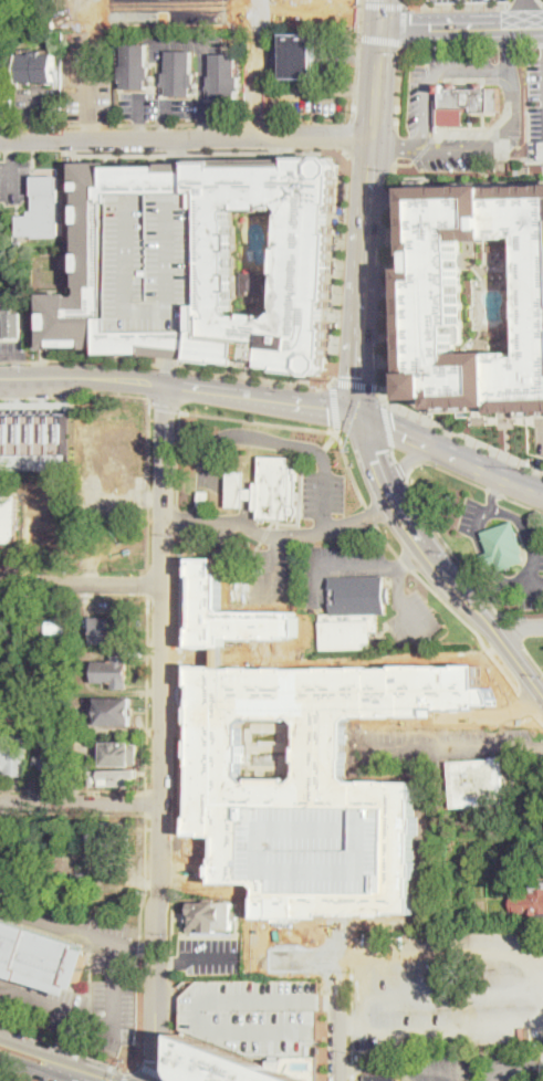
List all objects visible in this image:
parking lot: (460, 0)
road: (359, 1)
road: (334, 2)
road: (405, 2)
road: (382, 3)
road: (524, 4)
road: (542, 4)
road: (164, 6)
road: (457, 6)
building: (1, 9)
parking lot: (167, 10)
road: (383, 12)
road: (525, 12)
road: (320, 17)
road: (405, 24)
road: (461, 24)
traffic signals: (382, 25)
road: (178, 41)
road: (380, 41)
road: (450, 42)
road: (509, 42)
road: (530, 42)
road: (541, 42)
parking lot: (188, 45)
building: (302, 54)
road: (357, 63)
building: (135, 66)
building: (36, 67)
road: (258, 67)
building: (179, 74)
parking lot: (90, 76)
building: (224, 77)
road: (203, 81)
road: (400, 86)
road: (470, 88)
building: (429, 91)
parking lot: (3, 93)
road: (309, 93)
road: (359, 93)
parking lot: (307, 98)
parking lot: (535, 99)
parking lot: (38, 104)
road: (38, 105)
road: (139, 106)
parking lot: (167, 107)
road: (167, 111)
road: (276, 114)
road: (119, 123)
road: (87, 128)
road: (139, 128)
road: (38, 129)
road: (167, 129)
road: (203, 129)
road: (187, 137)
road: (349, 138)
road: (497, 140)
road: (396, 144)
road: (12, 148)
road: (181, 151)
road: (181, 180)
road: (12, 181)
parking lot: (15, 182)
building: (43, 211)
road: (368, 220)
building: (18, 243)
building: (160, 263)
parking lot: (160, 263)
building: (215, 265)
road: (344, 269)
road: (76, 271)
road: (390, 273)
building: (253, 285)
building: (437, 294)
building: (11, 315)
street lamp: (341, 318)
road: (169, 345)
parking lot: (12, 348)
road: (11, 356)
road: (92, 358)
road: (17, 366)
road: (168, 371)
road: (258, 374)
traffic signals: (358, 376)
road: (83, 377)
road: (356, 384)
road: (76, 393)
road: (382, 396)
road: (262, 399)
road: (335, 405)
road: (164, 407)
traffic signals: (328, 410)
road: (297, 426)
road: (388, 426)
traffic signals: (395, 429)
road: (336, 430)
building: (34, 432)
road: (366, 433)
road: (462, 433)
parking lot: (539, 434)
road: (413, 435)
road: (365, 437)
road: (541, 438)
road: (267, 439)
road: (149, 447)
traffic signals: (374, 453)
road: (395, 454)
road: (419, 456)
road: (177, 458)
road: (401, 470)
road: (383, 473)
road: (504, 476)
road: (237, 487)
building: (276, 489)
building: (238, 490)
road: (492, 491)
parking lot: (323, 492)
building: (203, 497)
road: (519, 502)
road: (422, 511)
road: (373, 514)
parking lot: (472, 516)
building: (8, 518)
road: (178, 519)
road: (226, 519)
road: (149, 528)
road: (321, 529)
road: (530, 533)
road: (387, 539)
building: (504, 546)
road: (483, 548)
road: (357, 562)
road: (405, 564)
parking lot: (341, 566)
parking lot: (531, 568)
parking lot: (278, 575)
road: (150, 581)
road: (82, 584)
road: (399, 585)
road: (464, 595)
building: (354, 611)
building: (234, 612)
parking lot: (415, 618)
road: (471, 626)
road: (520, 627)
building: (109, 630)
road: (514, 630)
building: (56, 636)
road: (533, 657)
building: (113, 672)
road: (148, 693)
road: (528, 703)
building: (114, 710)
road: (540, 717)
road: (161, 733)
road: (537, 747)
road: (449, 751)
building: (119, 752)
road: (176, 752)
building: (18, 755)
building: (91, 758)
building: (53, 759)
building: (311, 763)
building: (112, 778)
building: (476, 783)
road: (73, 789)
road: (81, 801)
road: (147, 801)
road: (146, 814)
building: (111, 835)
building: (540, 844)
building: (25, 847)
building: (319, 847)
parking lot: (319, 847)
building: (492, 861)
building: (525, 870)
building: (81, 881)
building: (11, 886)
building: (529, 901)
building: (211, 916)
road: (76, 930)
road: (439, 953)
building: (40, 954)
parking lot: (208, 954)
road: (210, 958)
road: (169, 959)
parking lot: (119, 973)
road: (472, 980)
parking lot: (441, 989)
road: (168, 1000)
road: (331, 1000)
parking lot: (46, 1007)
road: (142, 1010)
road: (354, 1010)
road: (341, 1019)
building: (260, 1020)
parking garage: (260, 1020)
road: (491, 1020)
road: (97, 1024)
road: (331, 1035)
road: (70, 1046)
road: (25, 1047)
traffic signals: (154, 1060)
road: (21, 1062)
building: (224, 1064)
parking lot: (509, 1064)
road: (84, 1066)
road: (408, 1066)
parking lot: (440, 1066)
road: (519, 1070)
road: (154, 1071)
road: (128, 1073)
road: (472, 1073)
road: (15, 1074)
road: (58, 1075)
road: (123, 1078)
building: (382, 1078)
road: (169, 1079)

